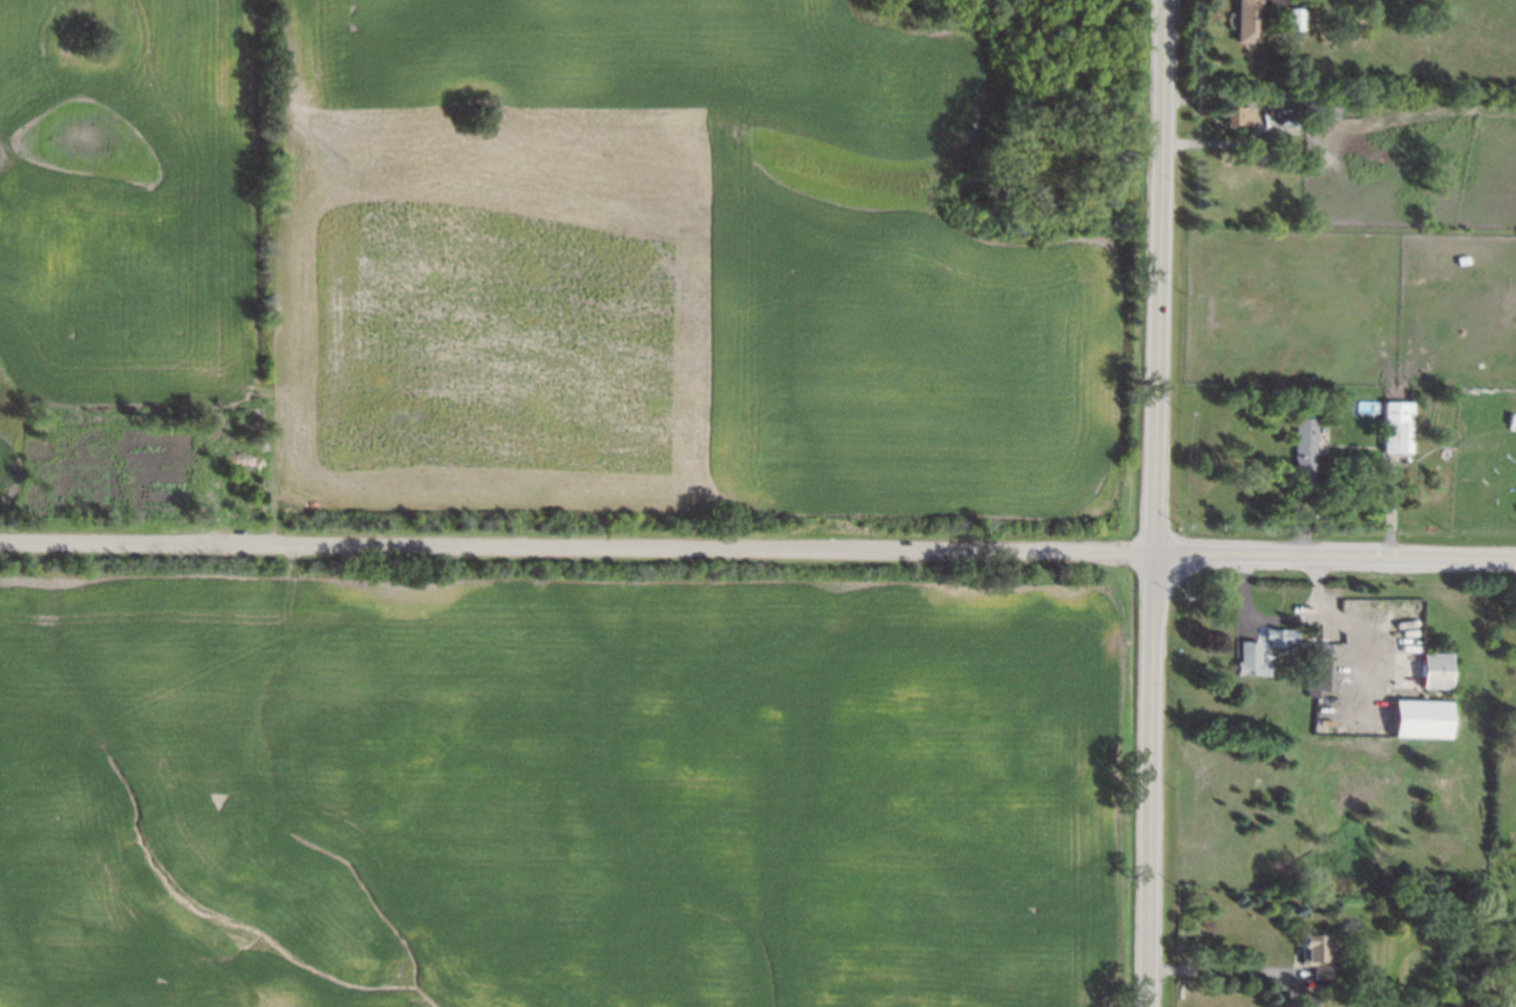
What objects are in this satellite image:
building: (1295, 18)
building: (1245, 21)
building: (1238, 115)
road: (1261, 118)
crop: (128, 206)
crop: (670, 268)
crop: (1291, 308)
crop: (1457, 313)
building: (1398, 428)
building: (1304, 448)
road: (1155, 503)
road: (758, 549)
road: (1277, 620)
building: (1262, 650)
building: (1319, 666)
building: (1423, 669)
building: (1423, 719)
crop: (553, 795)
building: (1317, 955)
road: (1230, 972)

